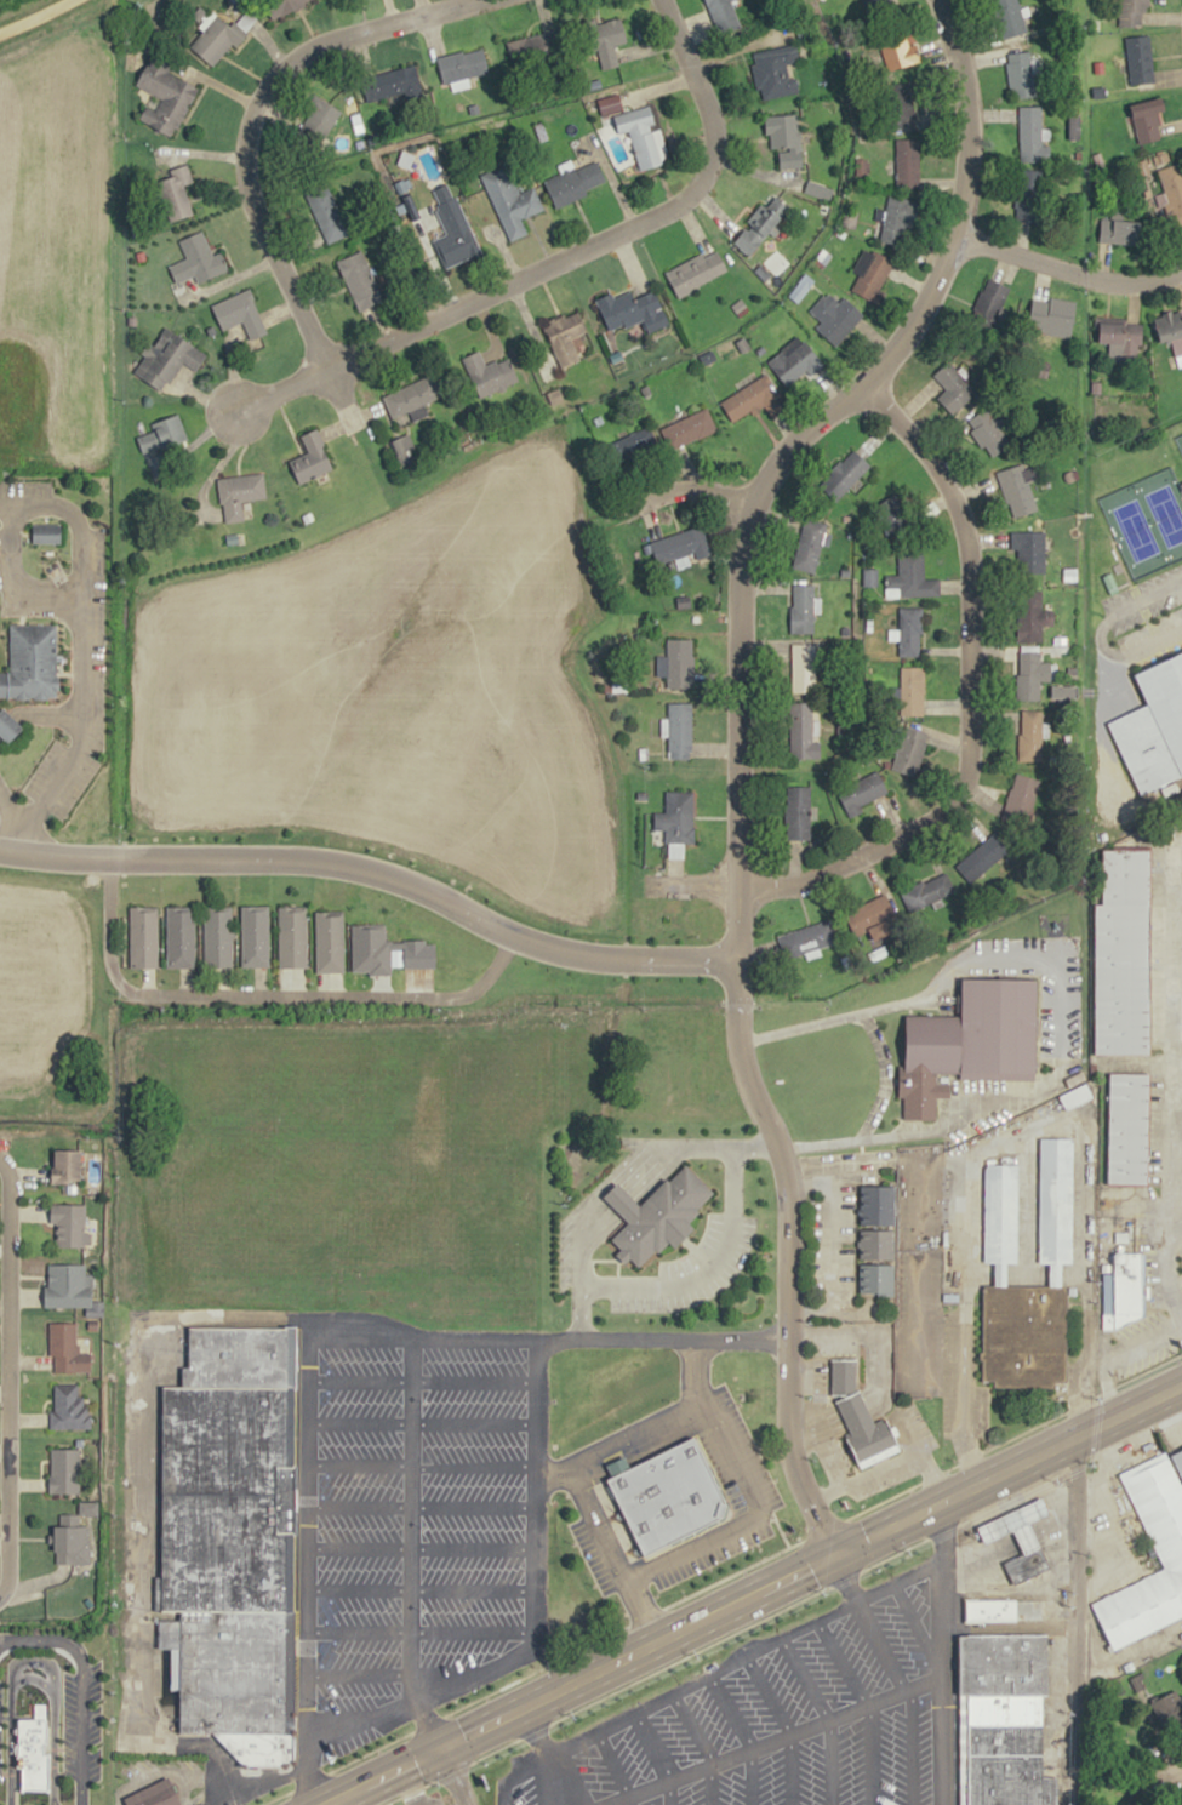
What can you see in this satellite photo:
building: (284, 6)
building: (878, 7)
building: (1132, 12)
road: (35, 15)
building: (723, 16)
building: (1011, 17)
building: (215, 39)
building: (610, 44)
building: (536, 46)
building: (896, 52)
building: (1140, 59)
building: (462, 64)
building: (775, 72)
building: (1020, 75)
building: (393, 84)
building: (165, 97)
building: (898, 113)
road: (250, 120)
building: (1148, 124)
building: (644, 136)
building: (1030, 136)
building: (784, 141)
building: (907, 162)
building: (576, 183)
building: (1172, 192)
building: (175, 194)
building: (1028, 196)
building: (510, 201)
building: (325, 212)
building: (898, 221)
building: (452, 230)
building: (1120, 232)
crop: (51, 257)
road: (556, 258)
building: (196, 261)
road: (1067, 270)
building: (696, 272)
building: (873, 276)
building: (359, 280)
building: (633, 310)
building: (240, 314)
building: (834, 316)
building: (1047, 324)
building: (1171, 332)
building: (565, 337)
building: (167, 358)
building: (795, 364)
building: (489, 375)
building: (953, 388)
building: (412, 396)
building: (754, 400)
building: (687, 429)
building: (992, 432)
building: (162, 440)
park: (1178, 441)
building: (632, 447)
building: (312, 458)
building: (847, 472)
building: (1018, 489)
road: (702, 490)
building: (239, 493)
road: (647, 518)
park: (1144, 521)
building: (46, 532)
building: (809, 544)
building: (683, 546)
building: (1028, 553)
building: (910, 576)
building: (803, 607)
building: (1037, 616)
building: (910, 630)
parking lot: (1135, 634)
parking lot: (85, 658)
building: (675, 662)
building: (32, 663)
building: (804, 668)
building: (1033, 673)
road: (716, 678)
building: (913, 690)
road: (967, 697)
building: (10, 724)
building: (1154, 725)
building: (678, 729)
building: (801, 729)
building: (1032, 735)
parking lot: (1, 737)
road: (735, 741)
road: (714, 748)
building: (909, 748)
building: (862, 792)
building: (1022, 795)
building: (798, 811)
parking lot: (21, 816)
building: (674, 819)
building: (984, 855)
road: (673, 872)
road: (373, 873)
road: (687, 882)
building: (927, 890)
building: (873, 919)
building: (143, 935)
building: (255, 935)
building: (179, 936)
building: (218, 936)
building: (292, 936)
building: (806, 938)
building: (330, 942)
building: (1124, 953)
road: (147, 979)
road: (183, 981)
road: (222, 981)
road: (258, 981)
road: (293, 981)
road: (330, 984)
road: (267, 996)
crop: (51, 1001)
road: (830, 1021)
building: (971, 1041)
road: (1043, 1086)
building: (1129, 1127)
building: (67, 1166)
road: (609, 1179)
road: (618, 1190)
road: (627, 1196)
road: (633, 1201)
building: (1055, 1206)
building: (657, 1213)
building: (1000, 1217)
building: (69, 1224)
parking lot: (708, 1233)
building: (875, 1239)
road: (693, 1250)
parking lot: (563, 1253)
parking lot: (674, 1264)
parking lot: (732, 1267)
road: (615, 1268)
road: (704, 1270)
road: (645, 1276)
building: (1124, 1285)
building: (72, 1289)
building: (1024, 1337)
road: (464, 1341)
building: (67, 1348)
road: (7, 1376)
building: (845, 1376)
road: (419, 1383)
building: (68, 1407)
road: (419, 1422)
road: (533, 1429)
building: (864, 1429)
parking lot: (747, 1446)
building: (1177, 1460)
road: (419, 1467)
parking lot: (720, 1468)
building: (64, 1470)
building: (668, 1496)
parking lot: (469, 1502)
road: (419, 1507)
parking lot: (1119, 1521)
building: (1163, 1525)
parking lot: (356, 1526)
road: (780, 1531)
building: (75, 1535)
building: (1022, 1538)
building: (232, 1540)
road: (407, 1540)
road: (419, 1547)
traffic signals: (829, 1548)
parking lot: (710, 1556)
parking lot: (589, 1558)
road: (661, 1560)
road: (307, 1563)
road: (721, 1580)
building: (998, 1583)
road: (419, 1589)
road: (744, 1589)
road: (640, 1605)
building: (999, 1610)
road: (1073, 1617)
road: (141, 1622)
road: (419, 1630)
road: (938, 1650)
road: (32, 1661)
road: (501, 1662)
road: (358, 1675)
parking lot: (93, 1680)
road: (79, 1689)
building: (1007, 1718)
parking lot: (93, 1724)
parking lot: (65, 1726)
parking lot: (778, 1727)
traffic signals: (436, 1742)
parking lot: (347, 1743)
building: (34, 1748)
parking lot: (93, 1765)
road: (159, 1770)
road: (451, 1772)
road: (1137, 1783)
parking lot: (247, 1793)
building: (155, 1795)

